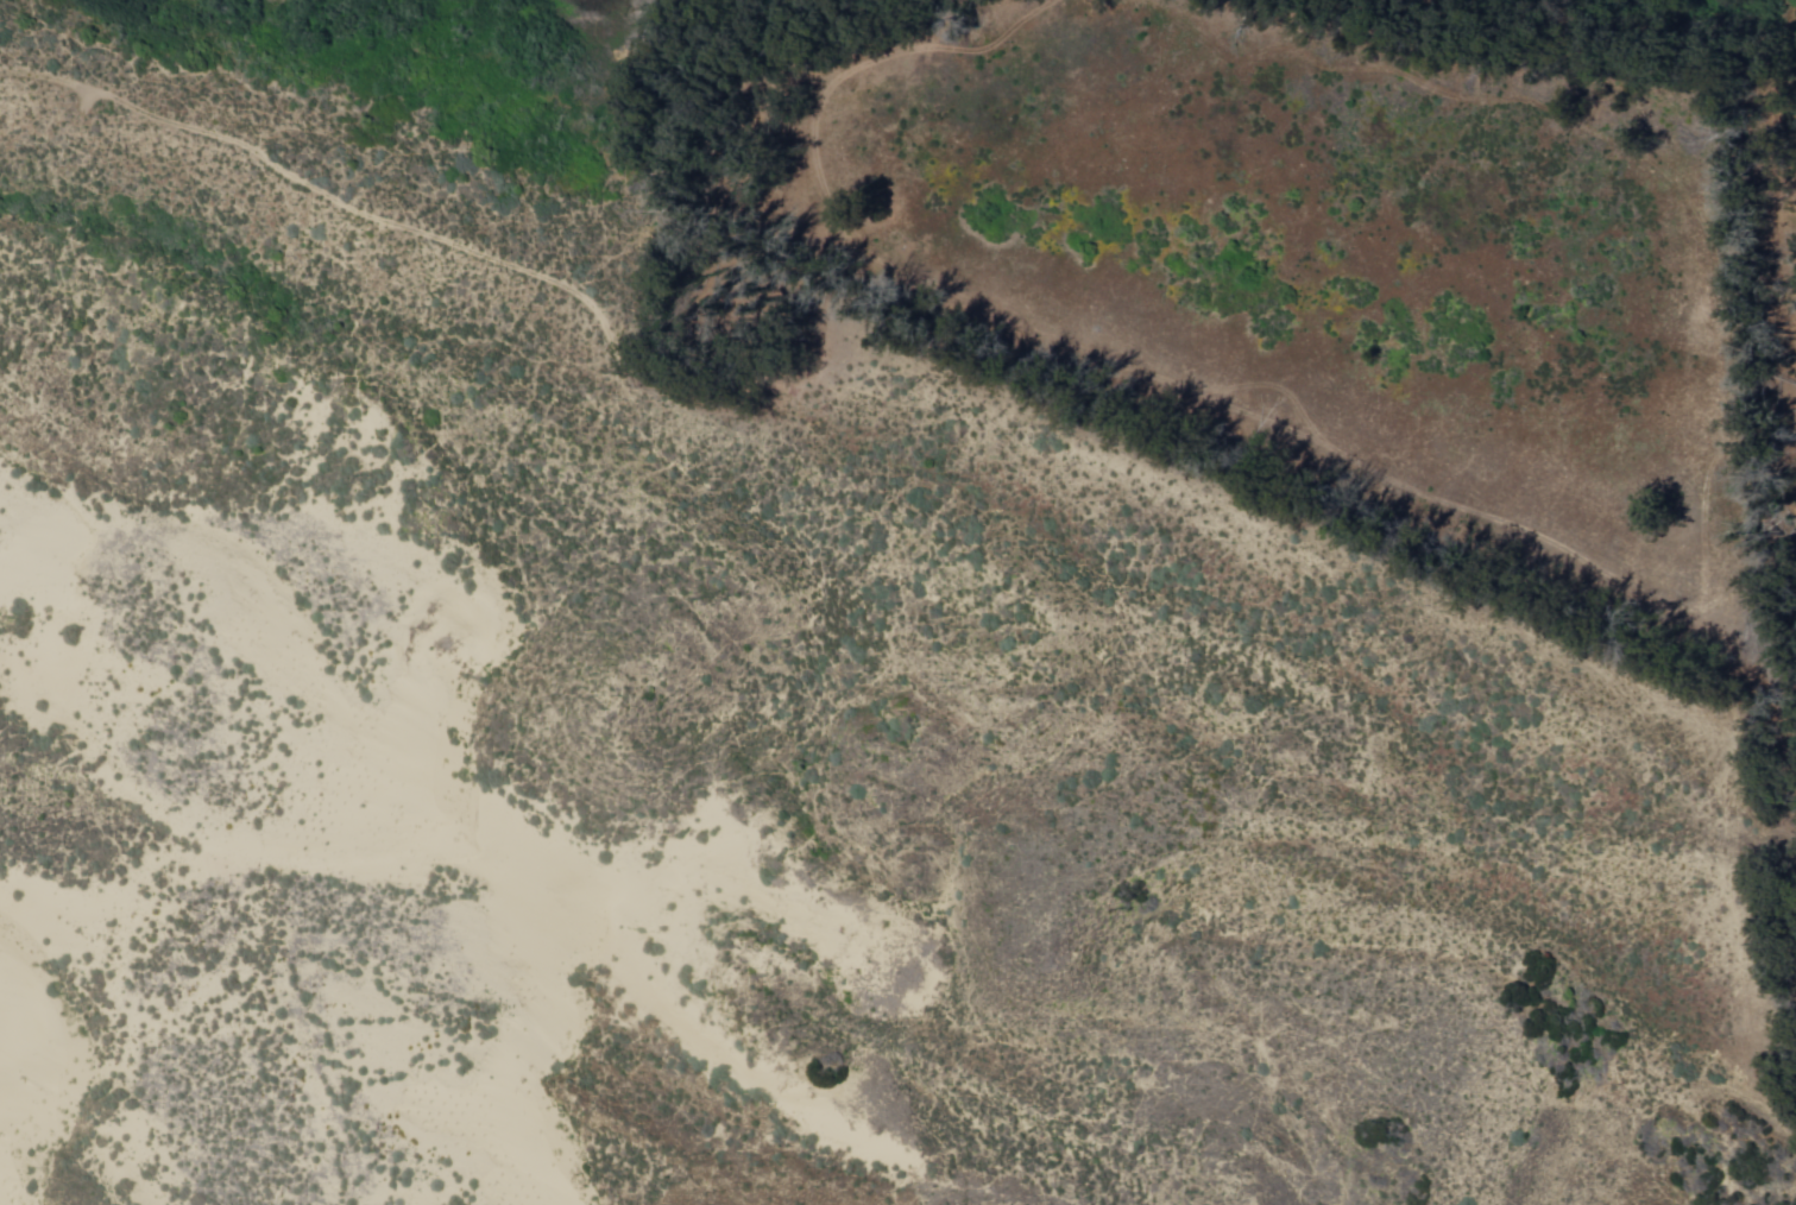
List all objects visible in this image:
park: (592, 896)

